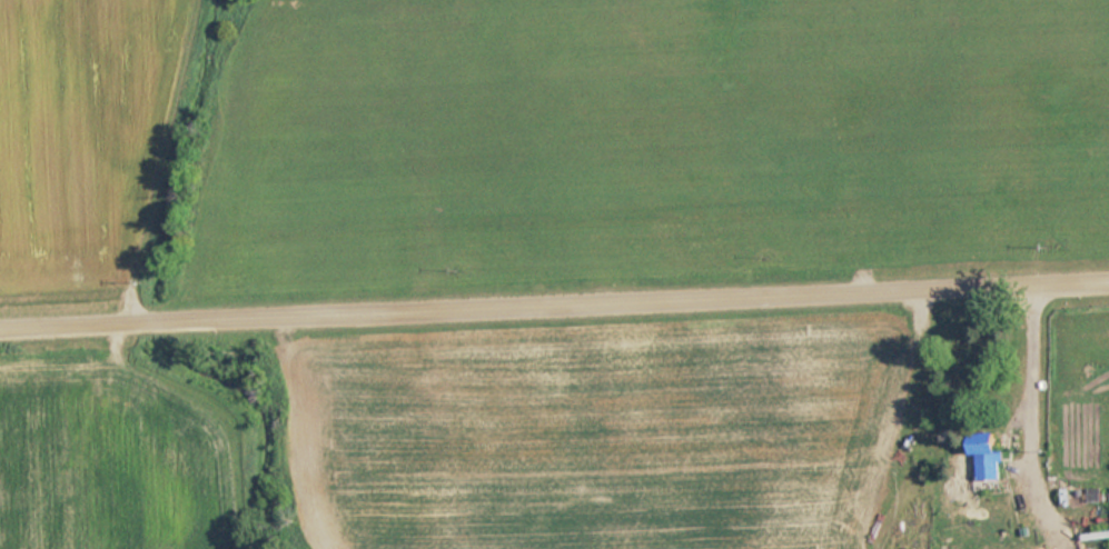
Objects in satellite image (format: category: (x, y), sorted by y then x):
road: (554, 298)
road: (1031, 418)
building: (986, 457)

